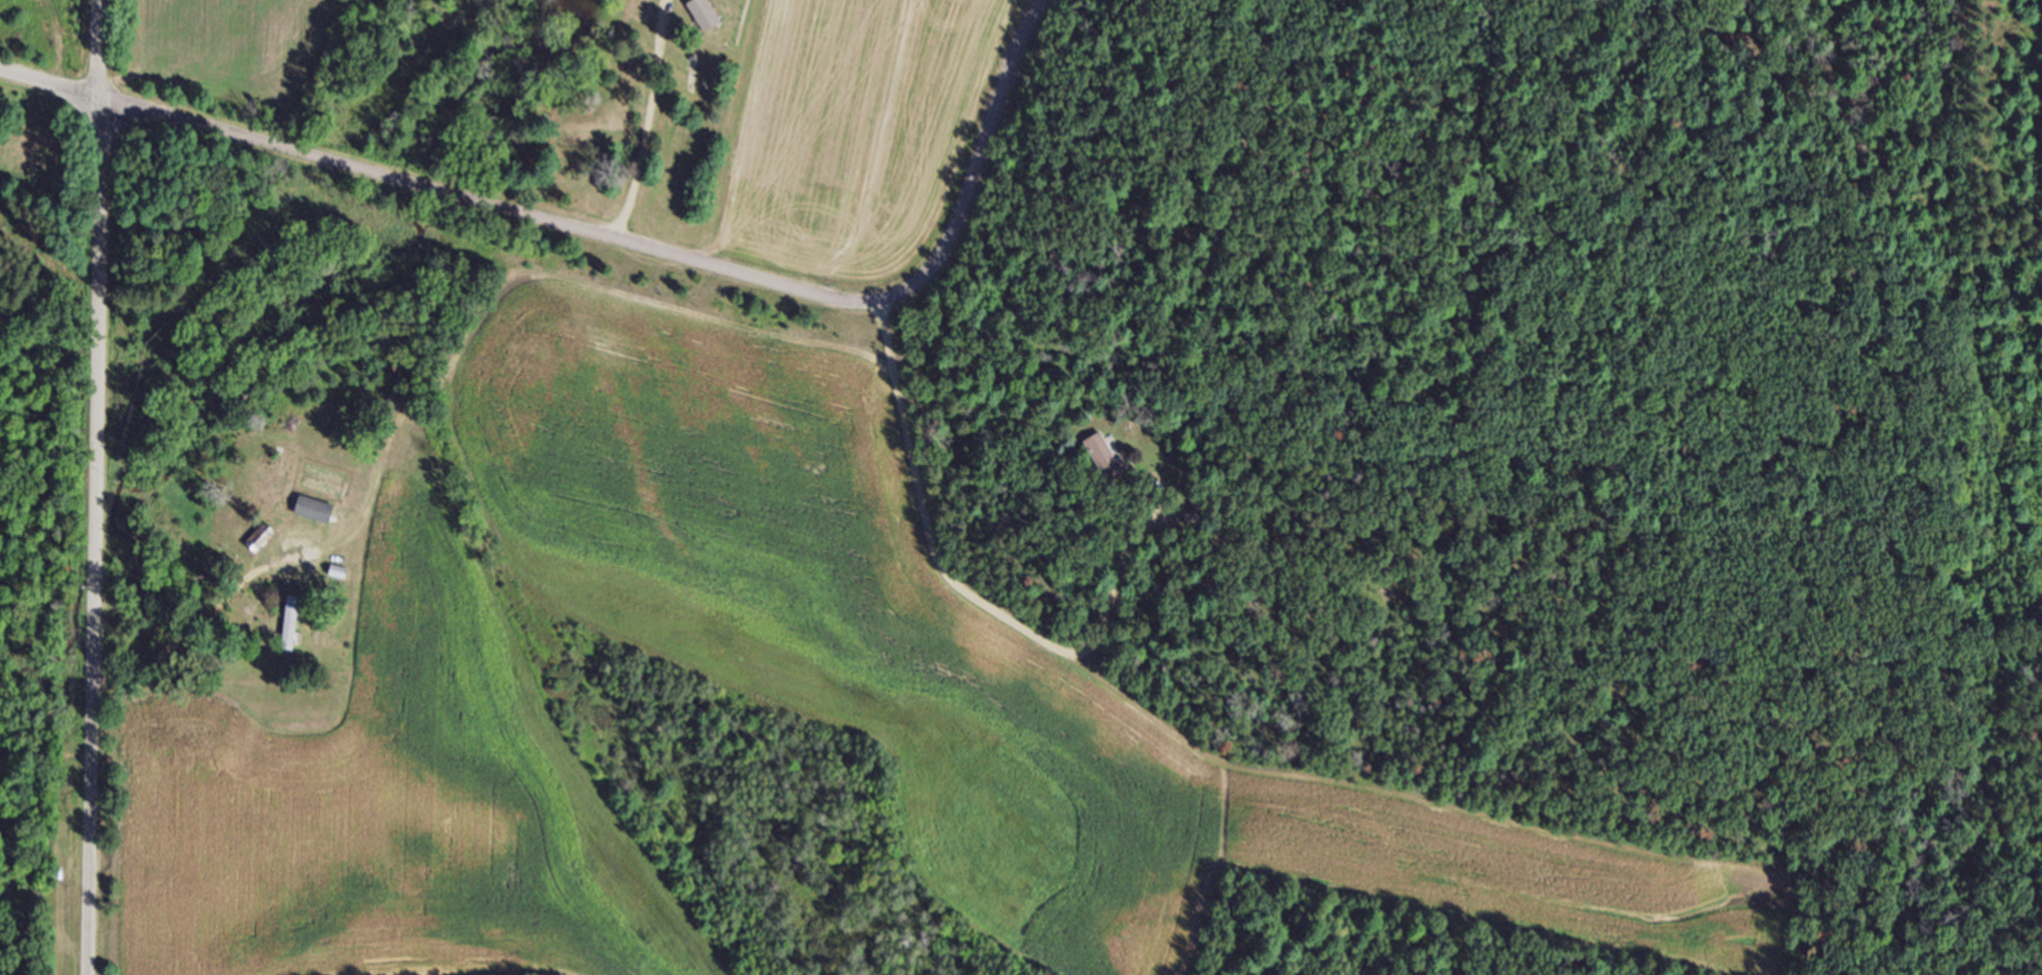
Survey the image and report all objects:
building: (707, 20)
road: (645, 120)
road: (612, 237)
building: (1109, 466)
road: (99, 487)
building: (317, 517)
building: (1198, 519)
building: (264, 545)
building: (341, 579)
building: (293, 631)

